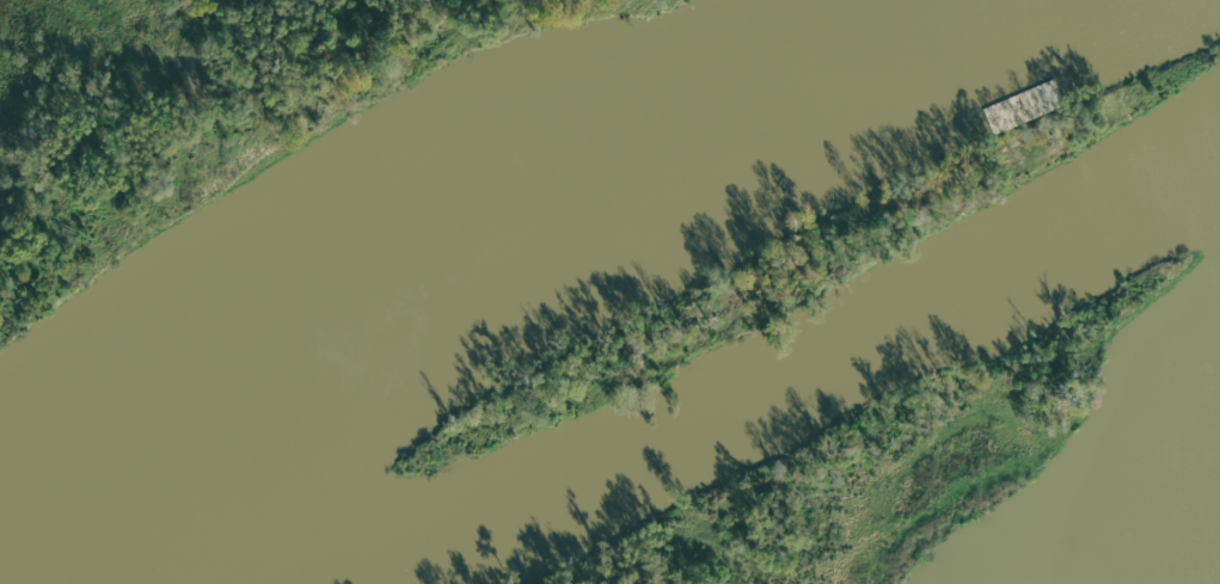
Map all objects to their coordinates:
river: (639, 311)

